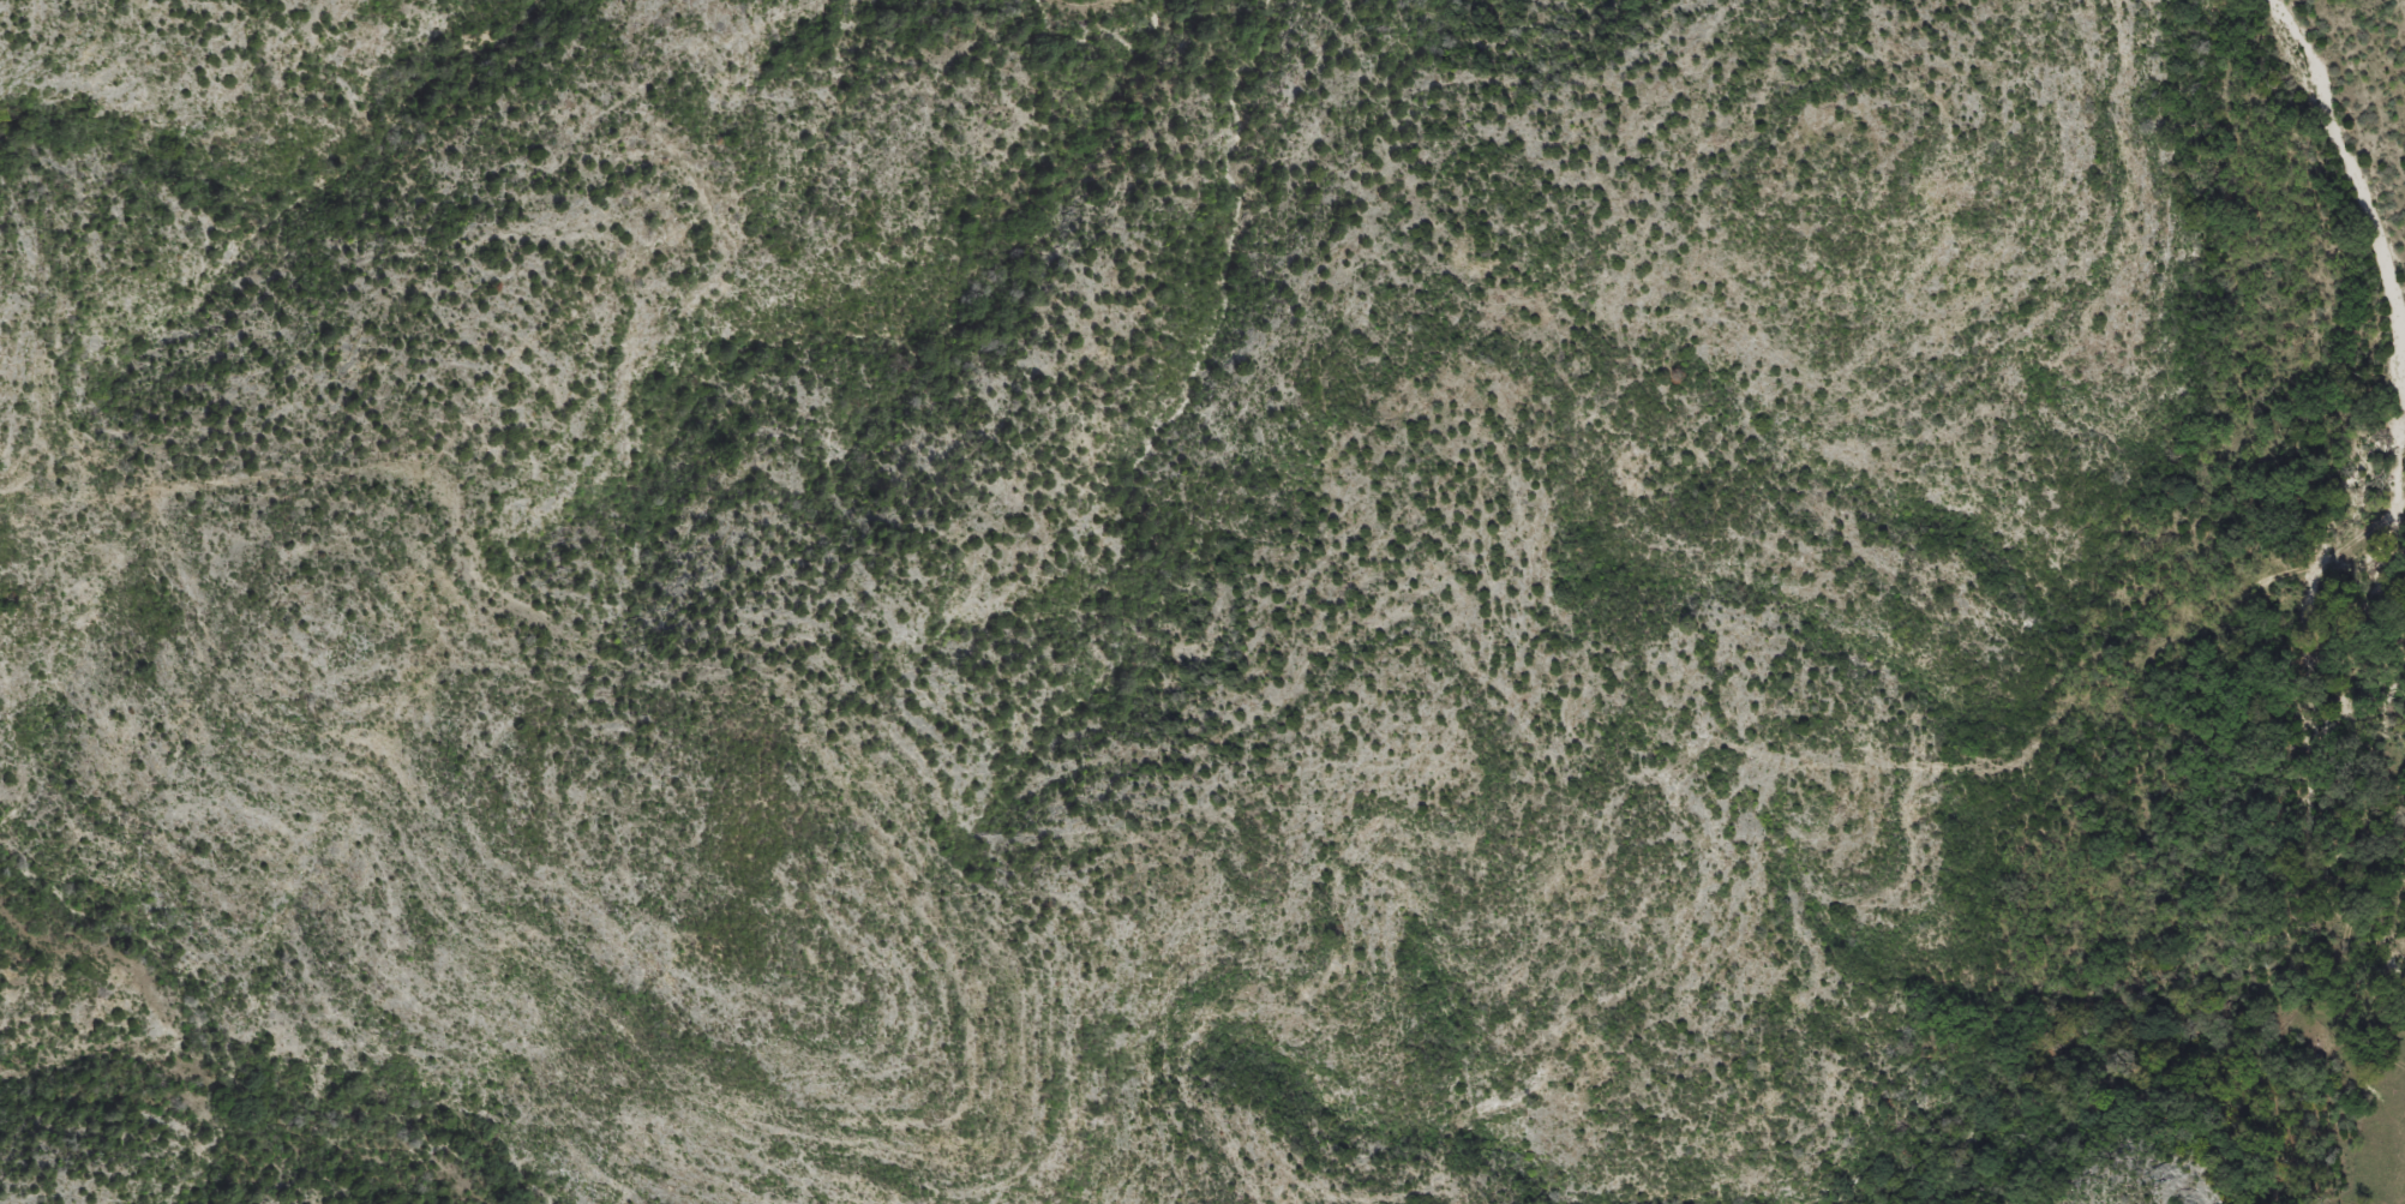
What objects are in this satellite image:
road: (2368, 948)

